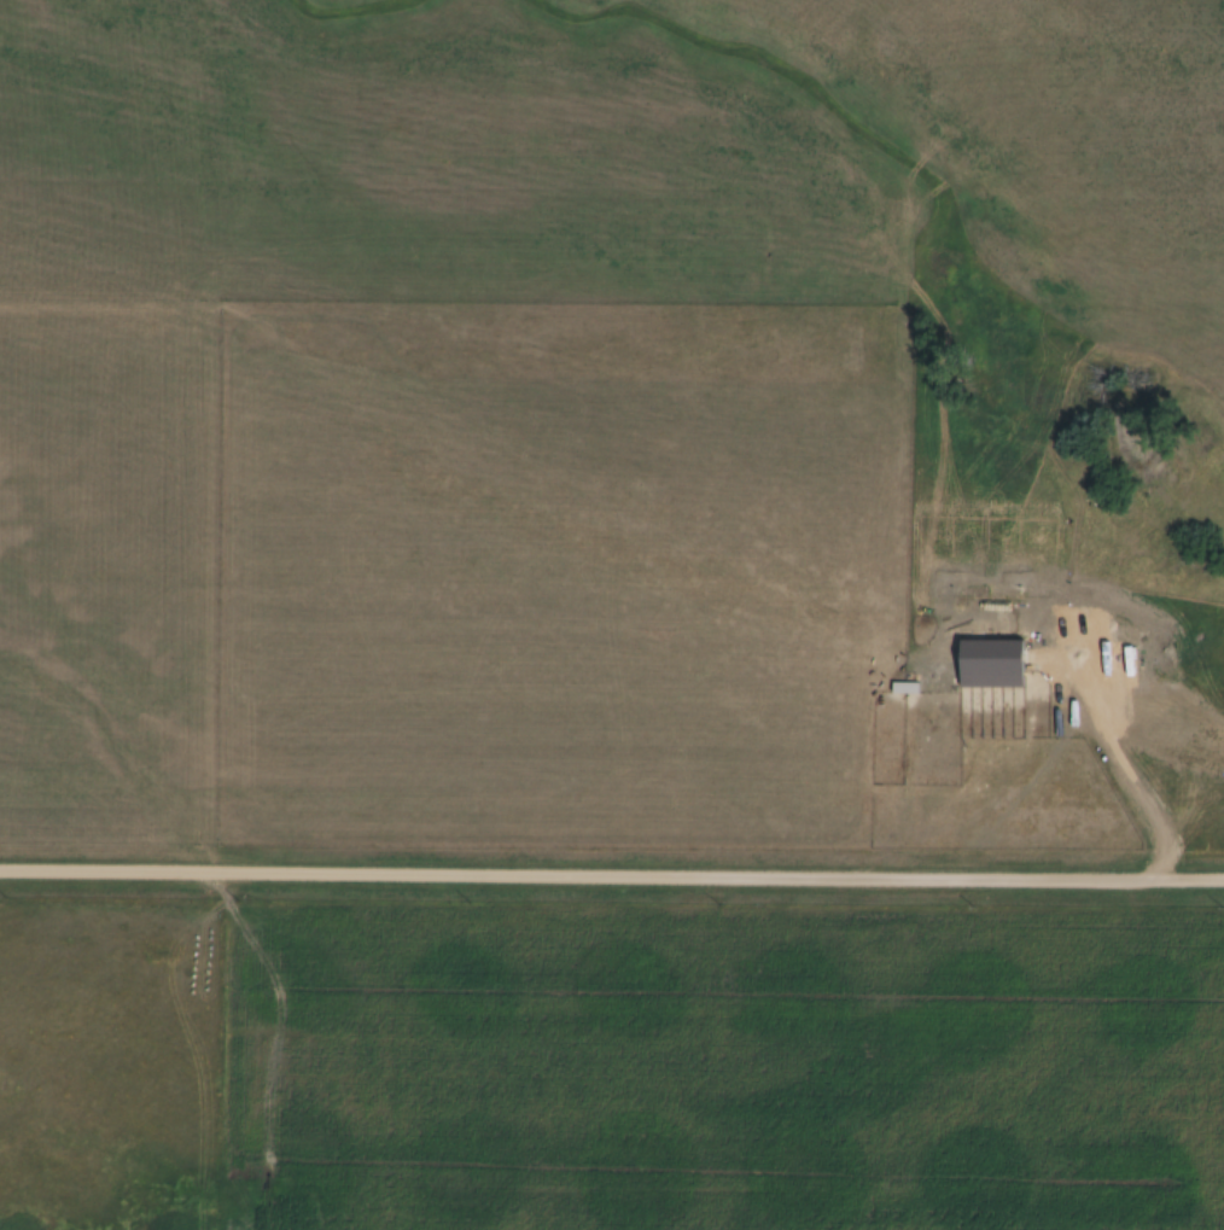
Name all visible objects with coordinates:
road: (612, 869)

